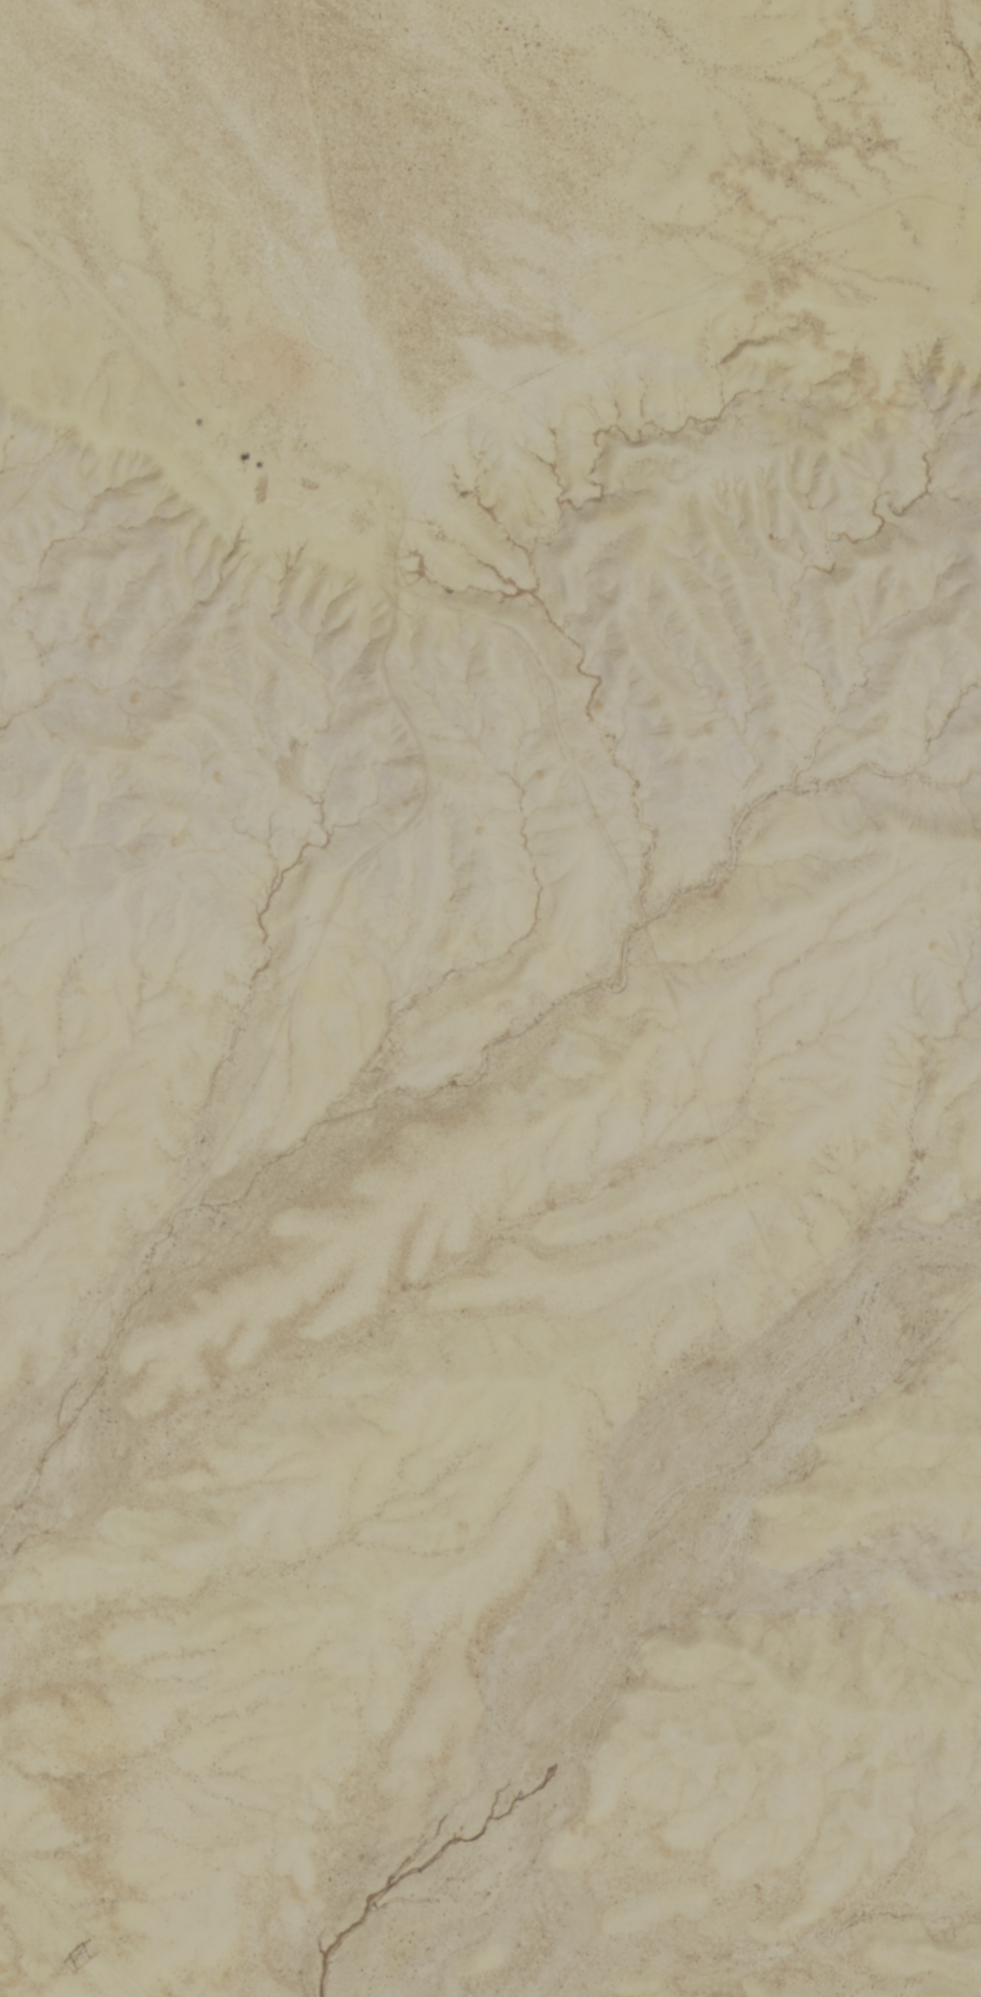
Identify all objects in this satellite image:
road: (112, 315)
power tower: (99, 1963)

